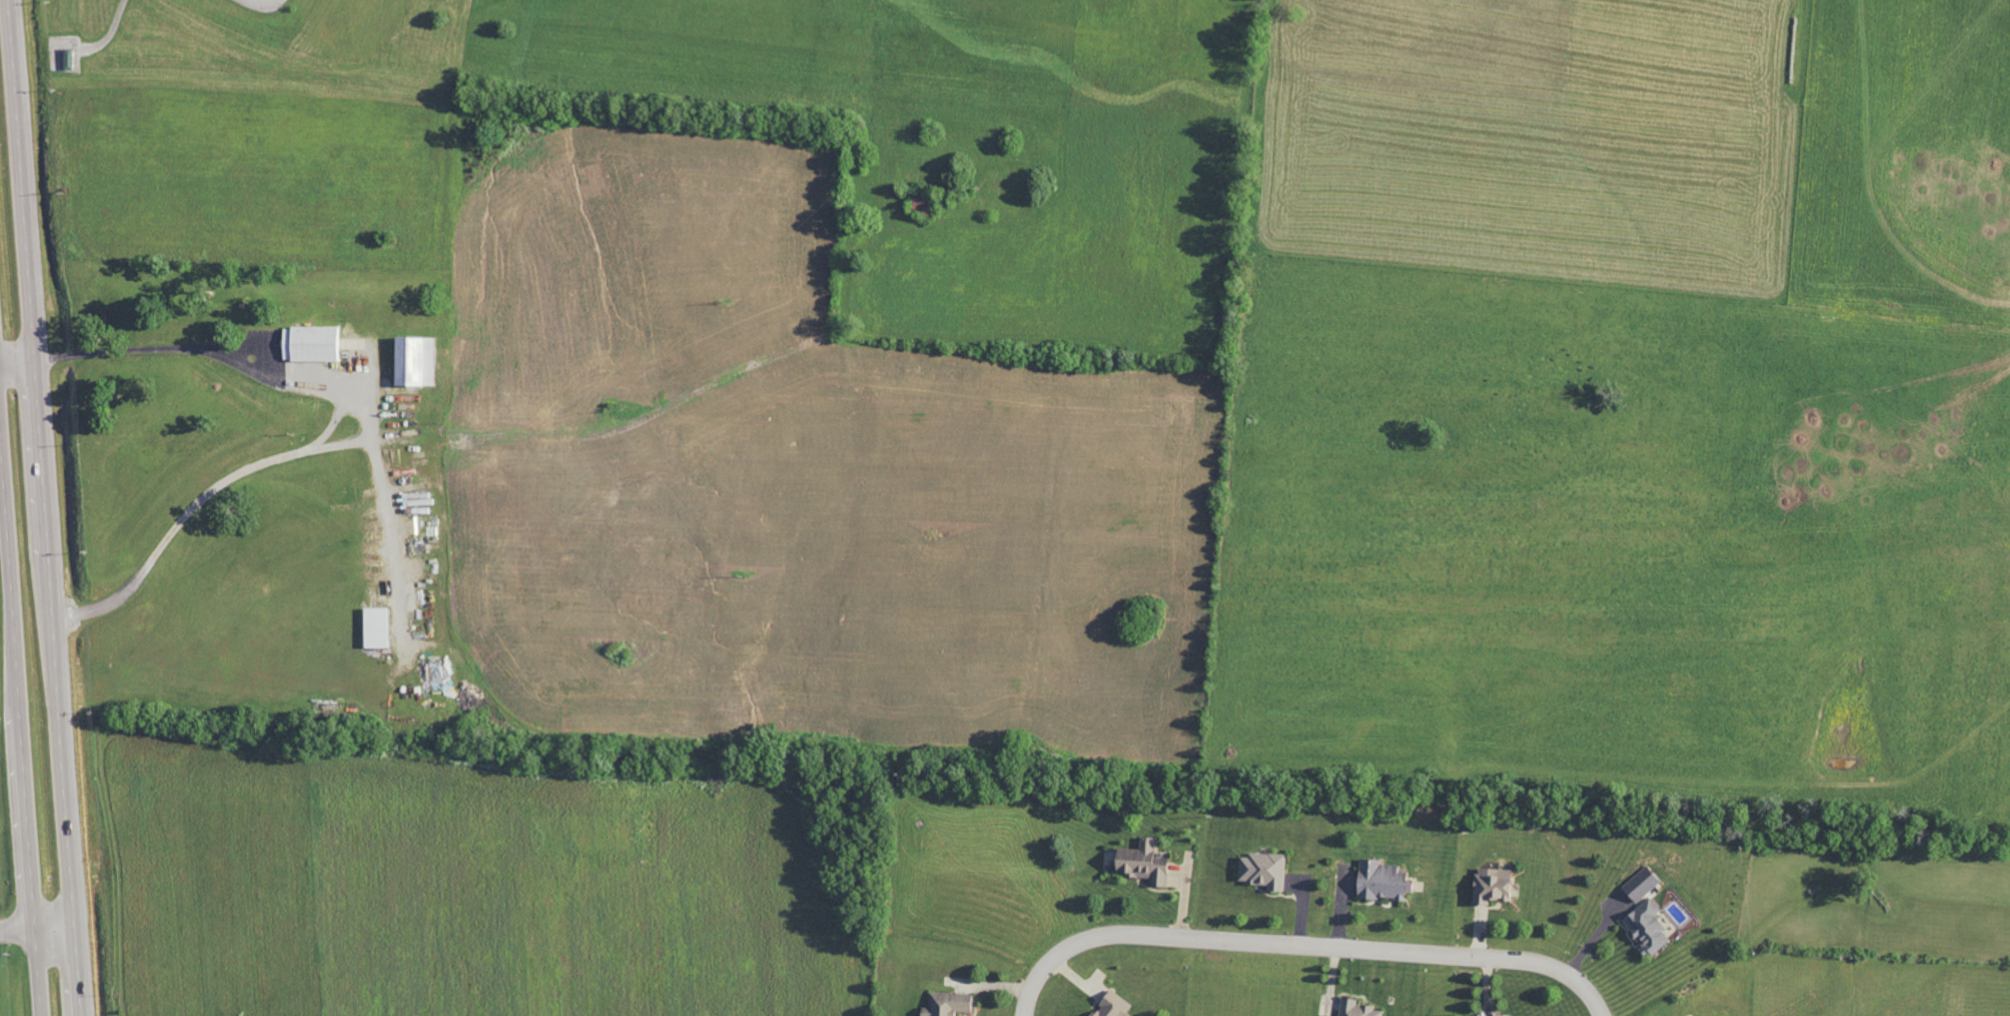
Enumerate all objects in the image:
park: (1042, 229)
building: (310, 344)
road: (16, 361)
building: (412, 362)
road: (330, 424)
road: (338, 443)
road: (42, 508)
road: (388, 513)
building: (373, 628)
road: (19, 732)
building: (1139, 862)
building: (1262, 870)
building: (1380, 880)
building: (1639, 884)
building: (1488, 885)
building: (1644, 926)
road: (36, 931)
road: (1301, 946)
building: (946, 1004)
building: (1110, 1005)
building: (1355, 1008)

